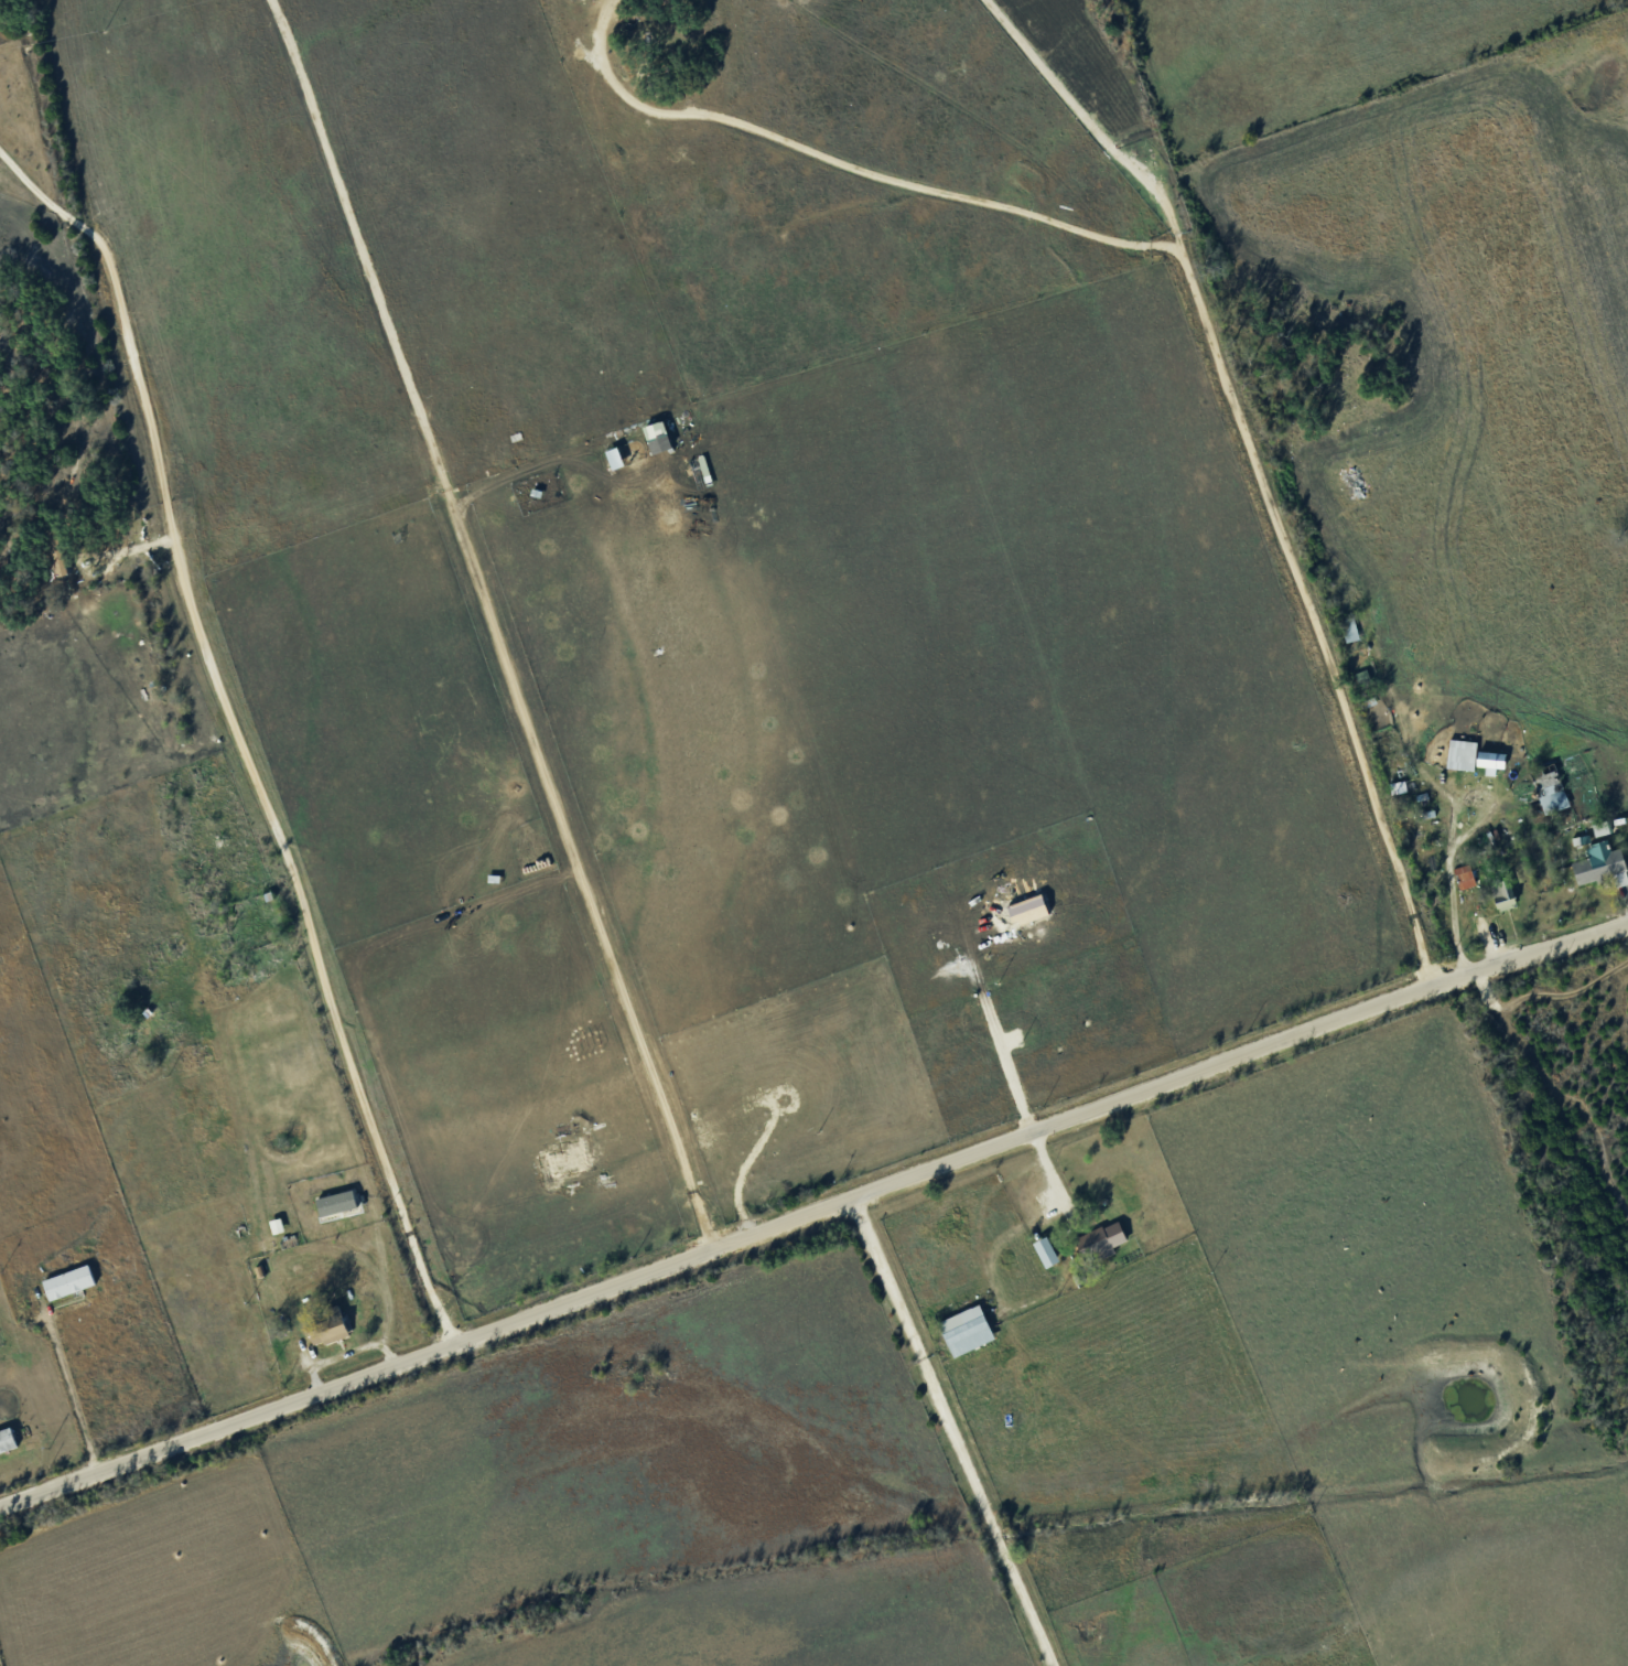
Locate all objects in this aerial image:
road: (856, 161)
road: (123, 338)
building: (659, 434)
building: (615, 456)
road: (1265, 466)
building: (1350, 630)
building: (1463, 753)
building: (1492, 760)
building: (1552, 792)
road: (554, 803)
road: (1453, 820)
building: (1602, 827)
building: (1599, 871)
building: (1459, 881)
building: (1503, 893)
road: (300, 917)
road: (990, 1018)
road: (1052, 1179)
building: (337, 1201)
road: (813, 1214)
building: (277, 1225)
building: (1093, 1244)
building: (1047, 1250)
building: (1042, 1258)
building: (68, 1281)
building: (328, 1329)
building: (961, 1335)
road: (67, 1396)
road: (952, 1432)
building: (8, 1439)

